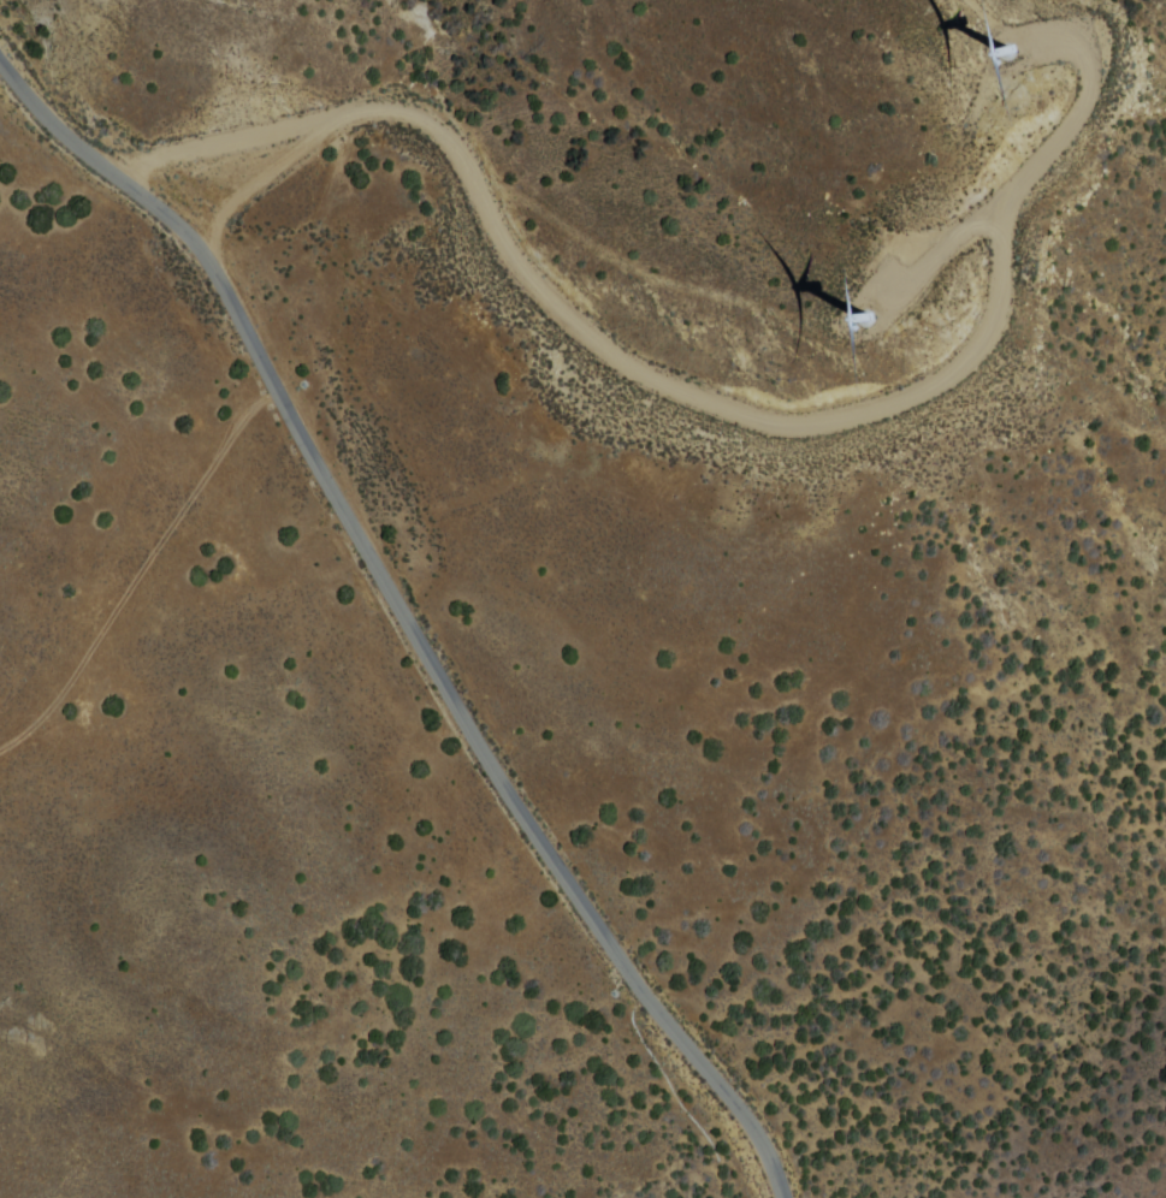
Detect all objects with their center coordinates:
wind turbine: (1012, 43)
wind turbine: (876, 308)

